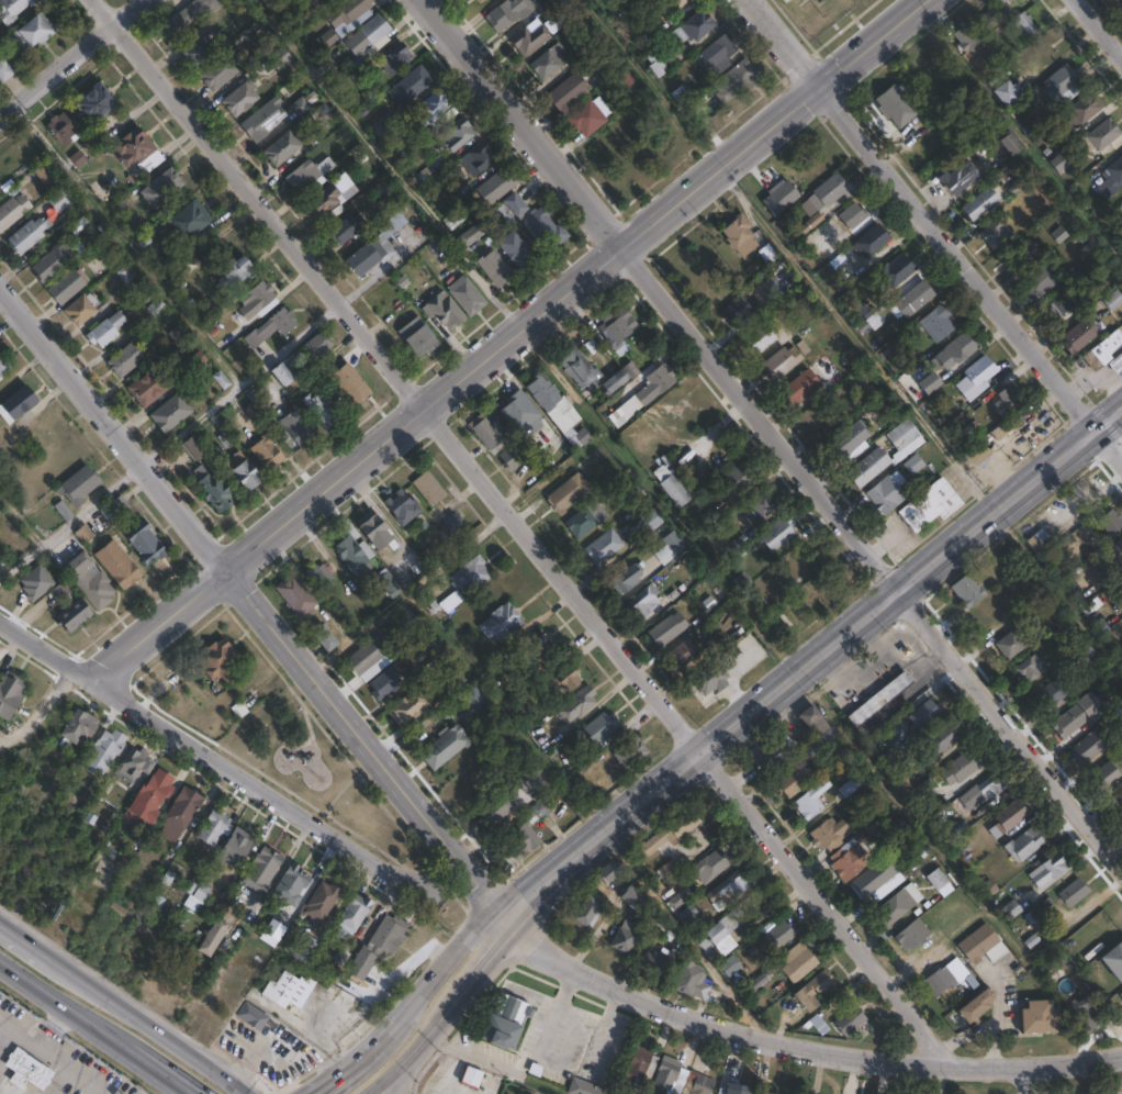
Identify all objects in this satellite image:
building: (640, 0)
building: (480, 1)
building: (1000, 2)
building: (272, 3)
building: (667, 5)
building: (11, 9)
building: (348, 11)
building: (508, 12)
building: (186, 18)
building: (293, 23)
building: (1025, 24)
road: (1099, 26)
building: (693, 29)
building: (372, 30)
building: (31, 31)
building: (966, 35)
building: (327, 38)
building: (529, 40)
building: (268, 47)
building: (198, 49)
building: (716, 52)
road: (74, 57)
building: (279, 57)
building: (394, 58)
building: (548, 60)
building: (657, 64)
building: (4, 70)
building: (217, 70)
building: (734, 79)
building: (1061, 80)
building: (409, 85)
road: (650, 86)
building: (568, 90)
building: (1003, 91)
building: (239, 98)
building: (93, 102)
building: (303, 102)
building: (896, 105)
building: (1082, 108)
building: (435, 110)
building: (985, 115)
building: (586, 118)
building: (265, 120)
building: (60, 127)
building: (455, 134)
building: (99, 135)
building: (1101, 135)
building: (1011, 143)
building: (282, 146)
building: (137, 149)
building: (475, 158)
building: (1059, 163)
road: (388, 165)
building: (430, 169)
building: (44, 172)
building: (308, 175)
building: (1000, 176)
building: (960, 177)
building: (1112, 178)
building: (495, 186)
building: (159, 188)
building: (381, 188)
building: (827, 192)
building: (330, 196)
building: (779, 197)
building: (57, 200)
building: (514, 203)
building: (980, 203)
building: (1121, 205)
building: (12, 206)
building: (383, 211)
building: (500, 213)
building: (186, 221)
building: (416, 221)
building: (811, 223)
building: (463, 225)
road: (938, 225)
building: (344, 227)
building: (543, 228)
building: (995, 234)
building: (26, 235)
building: (739, 235)
building: (872, 241)
building: (517, 250)
building: (372, 253)
building: (1021, 255)
building: (52, 261)
building: (495, 268)
building: (845, 269)
building: (897, 270)
building: (233, 273)
building: (130, 279)
building: (1041, 280)
building: (66, 286)
building: (465, 295)
building: (255, 299)
building: (1113, 299)
building: (912, 300)
building: (82, 308)
building: (155, 308)
building: (1056, 309)
building: (444, 310)
building: (867, 316)
building: (938, 323)
building: (270, 327)
building: (104, 330)
building: (617, 330)
building: (176, 333)
building: (417, 335)
building: (763, 335)
building: (1080, 335)
road: (510, 341)
building: (314, 347)
building: (962, 347)
building: (1103, 350)
building: (124, 359)
building: (194, 361)
building: (781, 361)
building: (2, 365)
building: (1117, 365)
building: (591, 371)
building: (280, 375)
building: (0, 377)
building: (976, 377)
road: (239, 383)
building: (346, 383)
building: (929, 386)
building: (148, 387)
building: (800, 388)
building: (643, 394)
building: (1009, 401)
building: (552, 403)
building: (15, 404)
building: (321, 409)
building: (824, 411)
building: (169, 412)
building: (519, 412)
building: (295, 426)
building: (1003, 429)
building: (487, 433)
road: (772, 433)
building: (850, 442)
building: (191, 447)
building: (266, 453)
building: (515, 454)
building: (877, 455)
building: (980, 456)
building: (245, 475)
building: (737, 480)
building: (77, 487)
building: (671, 487)
building: (891, 488)
building: (428, 489)
building: (214, 491)
building: (566, 493)
building: (636, 495)
building: (760, 506)
building: (931, 506)
building: (402, 507)
building: (61, 512)
building: (586, 520)
building: (709, 521)
building: (1111, 522)
road: (70, 523)
building: (450, 523)
building: (646, 524)
road: (525, 531)
building: (373, 532)
building: (778, 534)
building: (1040, 542)
building: (144, 543)
building: (604, 547)
building: (670, 548)
building: (352, 551)
building: (1118, 551)
building: (116, 566)
building: (317, 576)
building: (470, 576)
building: (626, 580)
building: (88, 581)
building: (37, 582)
building: (389, 583)
building: (968, 591)
building: (294, 595)
building: (829, 595)
building: (450, 601)
building: (643, 602)
road: (251, 605)
building: (74, 616)
building: (501, 623)
building: (666, 629)
building: (325, 638)
building: (1013, 643)
building: (535, 645)
building: (682, 654)
building: (364, 656)
building: (434, 657)
building: (218, 661)
road: (812, 665)
building: (1032, 670)
building: (569, 679)
building: (710, 679)
building: (386, 682)
building: (1082, 683)
building: (11, 693)
building: (1051, 694)
building: (474, 700)
building: (880, 700)
building: (580, 703)
building: (407, 707)
building: (924, 715)
building: (1078, 715)
building: (810, 717)
building: (80, 726)
building: (599, 728)
building: (831, 737)
building: (944, 737)
building: (445, 747)
building: (1088, 747)
building: (106, 750)
building: (897, 750)
building: (630, 753)
building: (776, 755)
road: (214, 759)
building: (133, 763)
building: (963, 767)
park: (318, 773)
building: (1107, 775)
building: (536, 778)
building: (793, 781)
building: (850, 786)
building: (984, 790)
building: (153, 795)
building: (1121, 801)
building: (808, 806)
building: (497, 807)
building: (536, 812)
building: (180, 813)
building: (1012, 815)
building: (214, 827)
building: (830, 835)
building: (667, 836)
building: (526, 838)
building: (1025, 845)
building: (235, 848)
building: (850, 862)
building: (713, 863)
building: (262, 869)
building: (667, 870)
building: (1050, 871)
building: (609, 872)
building: (877, 880)
building: (938, 880)
building: (292, 884)
building: (729, 890)
building: (194, 893)
building: (1074, 893)
building: (631, 898)
building: (245, 900)
building: (322, 901)
building: (894, 907)
building: (1011, 908)
building: (588, 913)
building: (686, 913)
building: (355, 914)
building: (721, 934)
building: (912, 934)
road: (682, 935)
building: (214, 937)
building: (625, 937)
building: (777, 937)
road: (26, 942)
building: (380, 945)
road: (463, 945)
building: (984, 945)
building: (302, 947)
building: (1114, 959)
building: (798, 961)
building: (659, 962)
building: (941, 978)
building: (691, 979)
building: (822, 981)
building: (288, 989)
building: (1121, 995)
building: (807, 997)
building: (977, 1004)
road: (63, 1006)
building: (1081, 1013)
road: (449, 1015)
building: (254, 1016)
road: (407, 1016)
building: (1041, 1016)
road: (997, 1018)
building: (506, 1019)
building: (853, 1022)
road: (715, 1026)
road: (149, 1027)
road: (964, 1031)
road: (38, 1042)
building: (638, 1063)
road: (1035, 1067)
building: (29, 1071)
road: (349, 1071)
road: (149, 1072)
road: (156, 1072)
building: (666, 1075)
building: (471, 1076)
road: (1031, 1081)
road: (391, 1083)
road: (400, 1083)
building: (700, 1085)
building: (584, 1087)
park: (1089, 1087)
building: (731, 1091)
building: (669, 1093)
building: (763, 1093)

